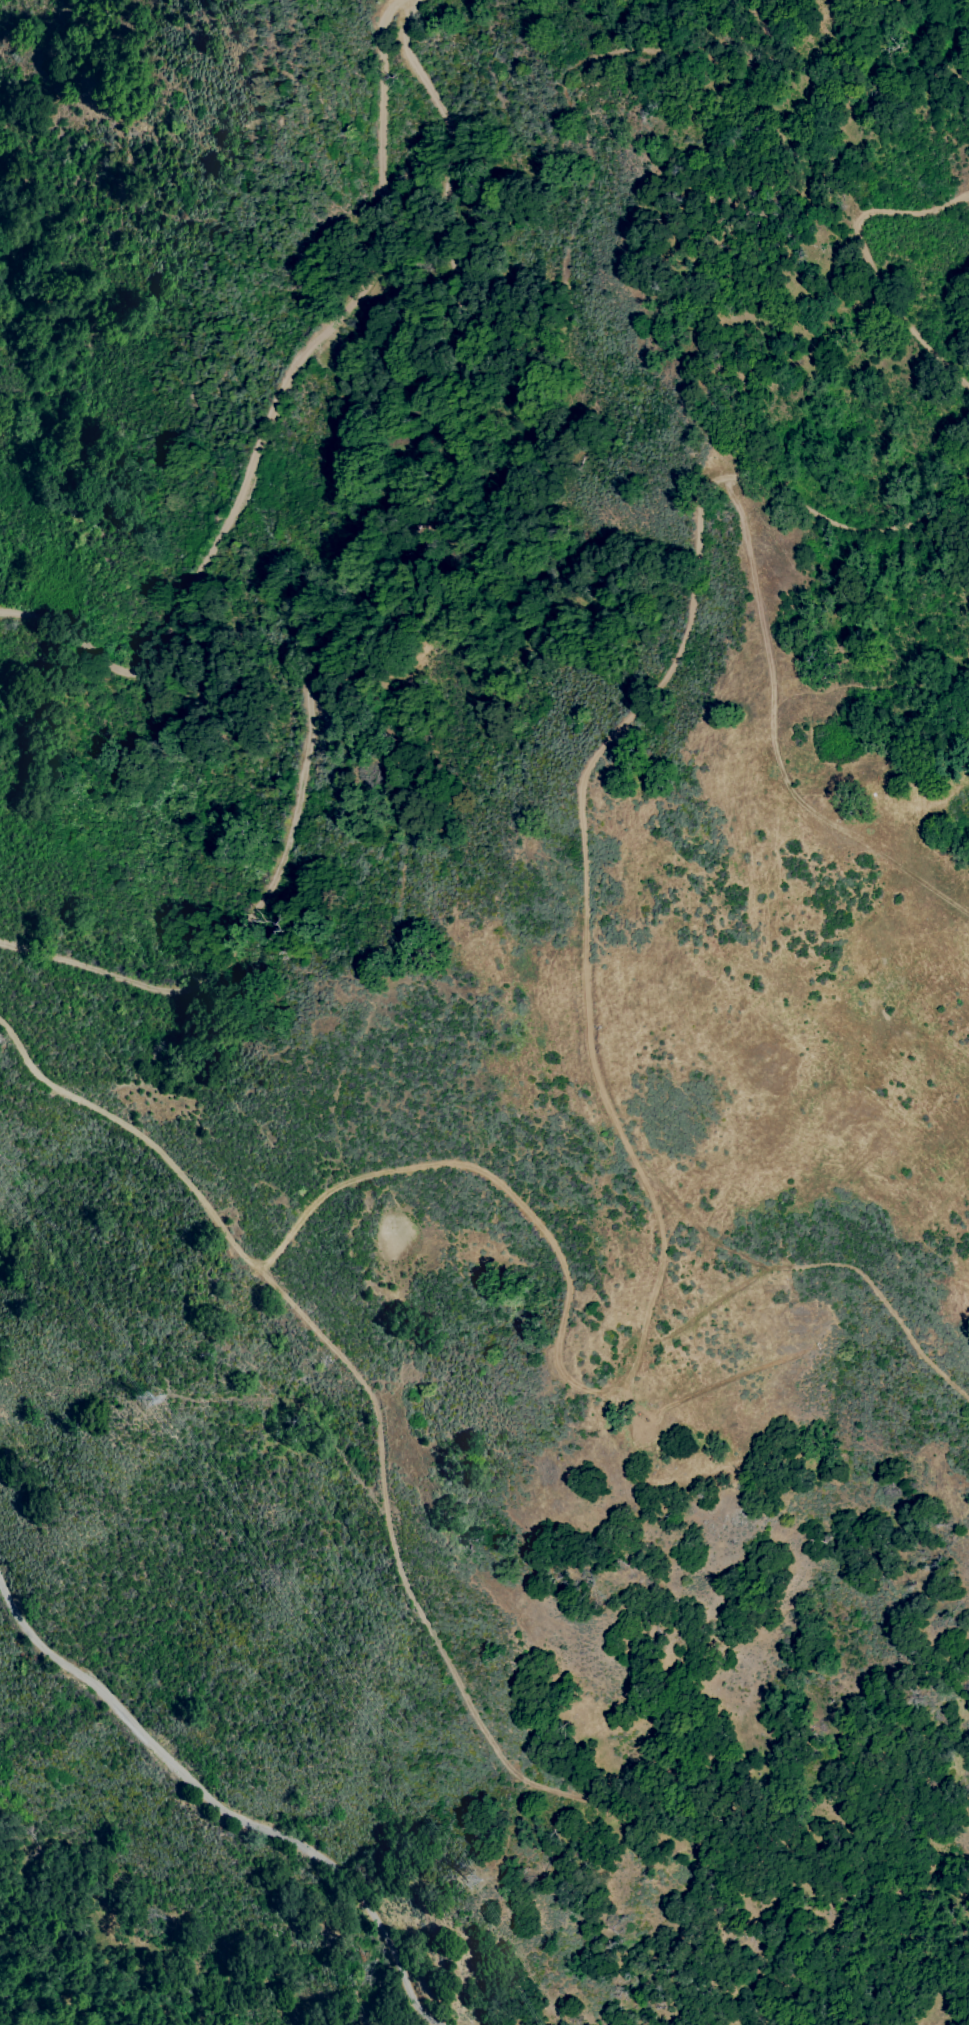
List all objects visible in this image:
power tower: (145, 1399)
road: (219, 1802)
power tower: (476, 1878)

